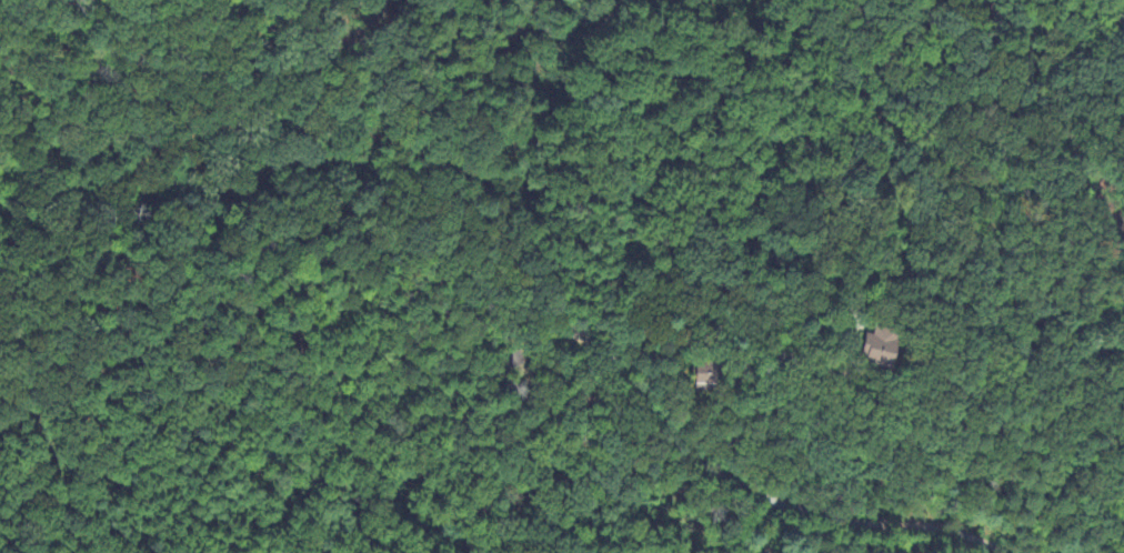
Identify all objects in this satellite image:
road: (812, 315)
road: (773, 341)
building: (884, 348)
road: (608, 372)

